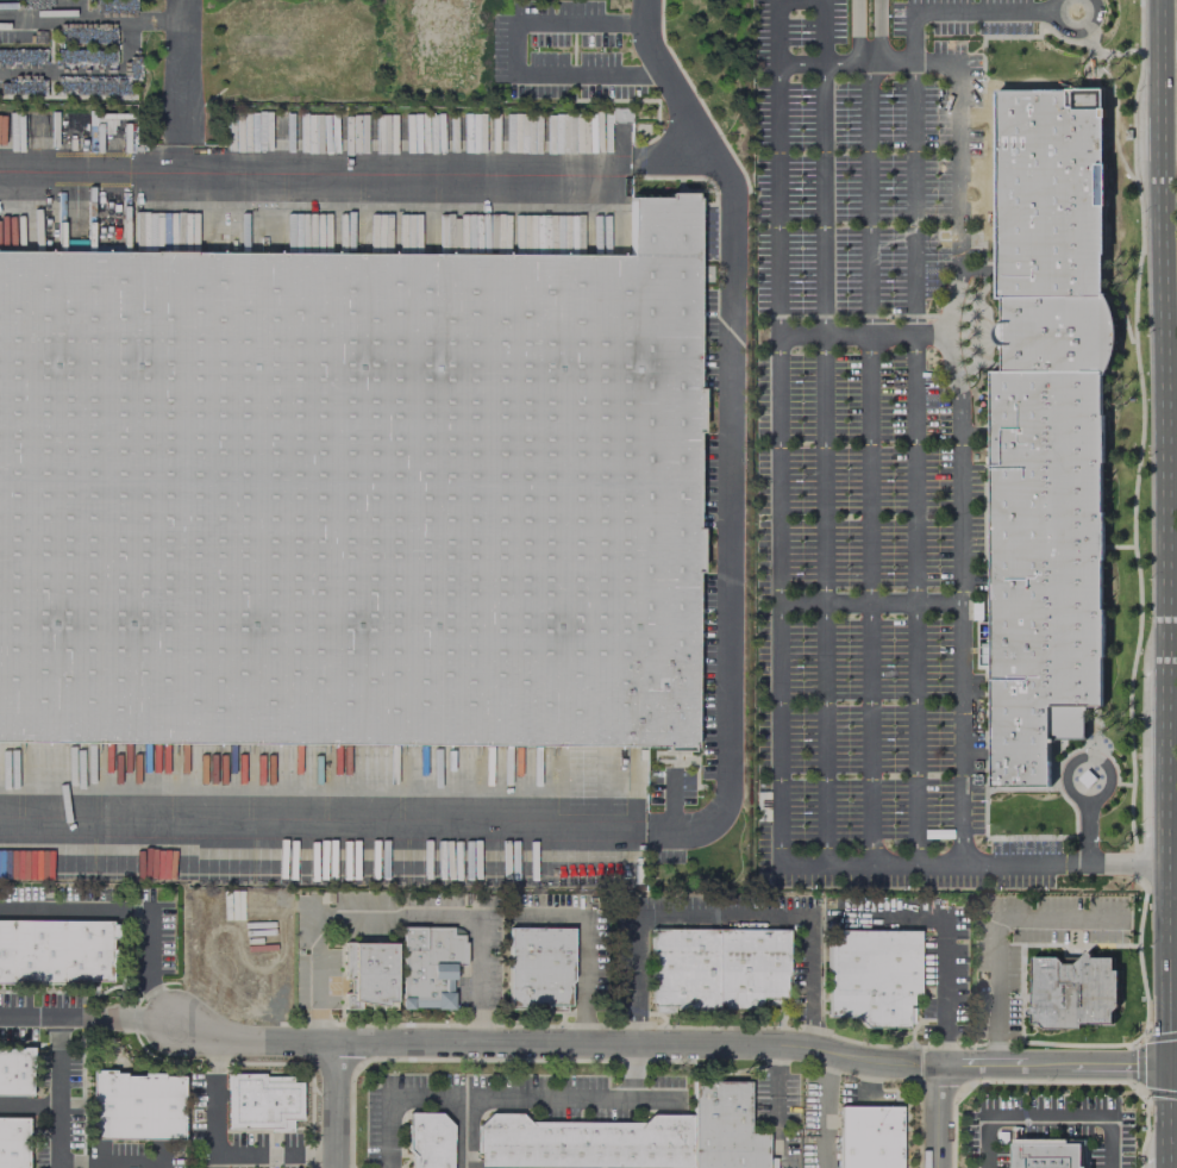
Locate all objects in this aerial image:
road: (92, 19)
road: (775, 30)
road: (820, 30)
road: (854, 30)
road: (876, 30)
road: (1072, 33)
road: (910, 35)
road: (515, 58)
road: (88, 68)
road: (182, 81)
building: (0, 121)
road: (358, 163)
road: (860, 336)
road: (1160, 427)
building: (1046, 429)
road: (958, 437)
road: (776, 461)
road: (822, 461)
road: (868, 461)
road: (913, 461)
building: (350, 493)
road: (725, 755)
road: (1072, 758)
road: (932, 863)
road: (1094, 864)
road: (396, 913)
road: (725, 914)
road: (996, 925)
road: (945, 933)
road: (583, 943)
building: (55, 950)
road: (1164, 961)
building: (427, 966)
building: (538, 967)
building: (715, 968)
building: (368, 975)
building: (872, 975)
road: (148, 982)
building: (1071, 992)
road: (668, 1044)
road: (1171, 1064)
traffic signals: (1166, 1066)
building: (14, 1072)
road: (58, 1092)
road: (501, 1098)
building: (262, 1101)
road: (214, 1104)
road: (334, 1105)
road: (29, 1106)
building: (134, 1106)
road: (825, 1108)
road: (940, 1116)
road: (1165, 1116)
road: (1048, 1117)
building: (722, 1128)
road: (463, 1133)
building: (866, 1136)
building: (428, 1139)
building: (13, 1142)
building: (583, 1143)
road: (274, 1154)
building: (1051, 1155)
road: (112, 1162)

